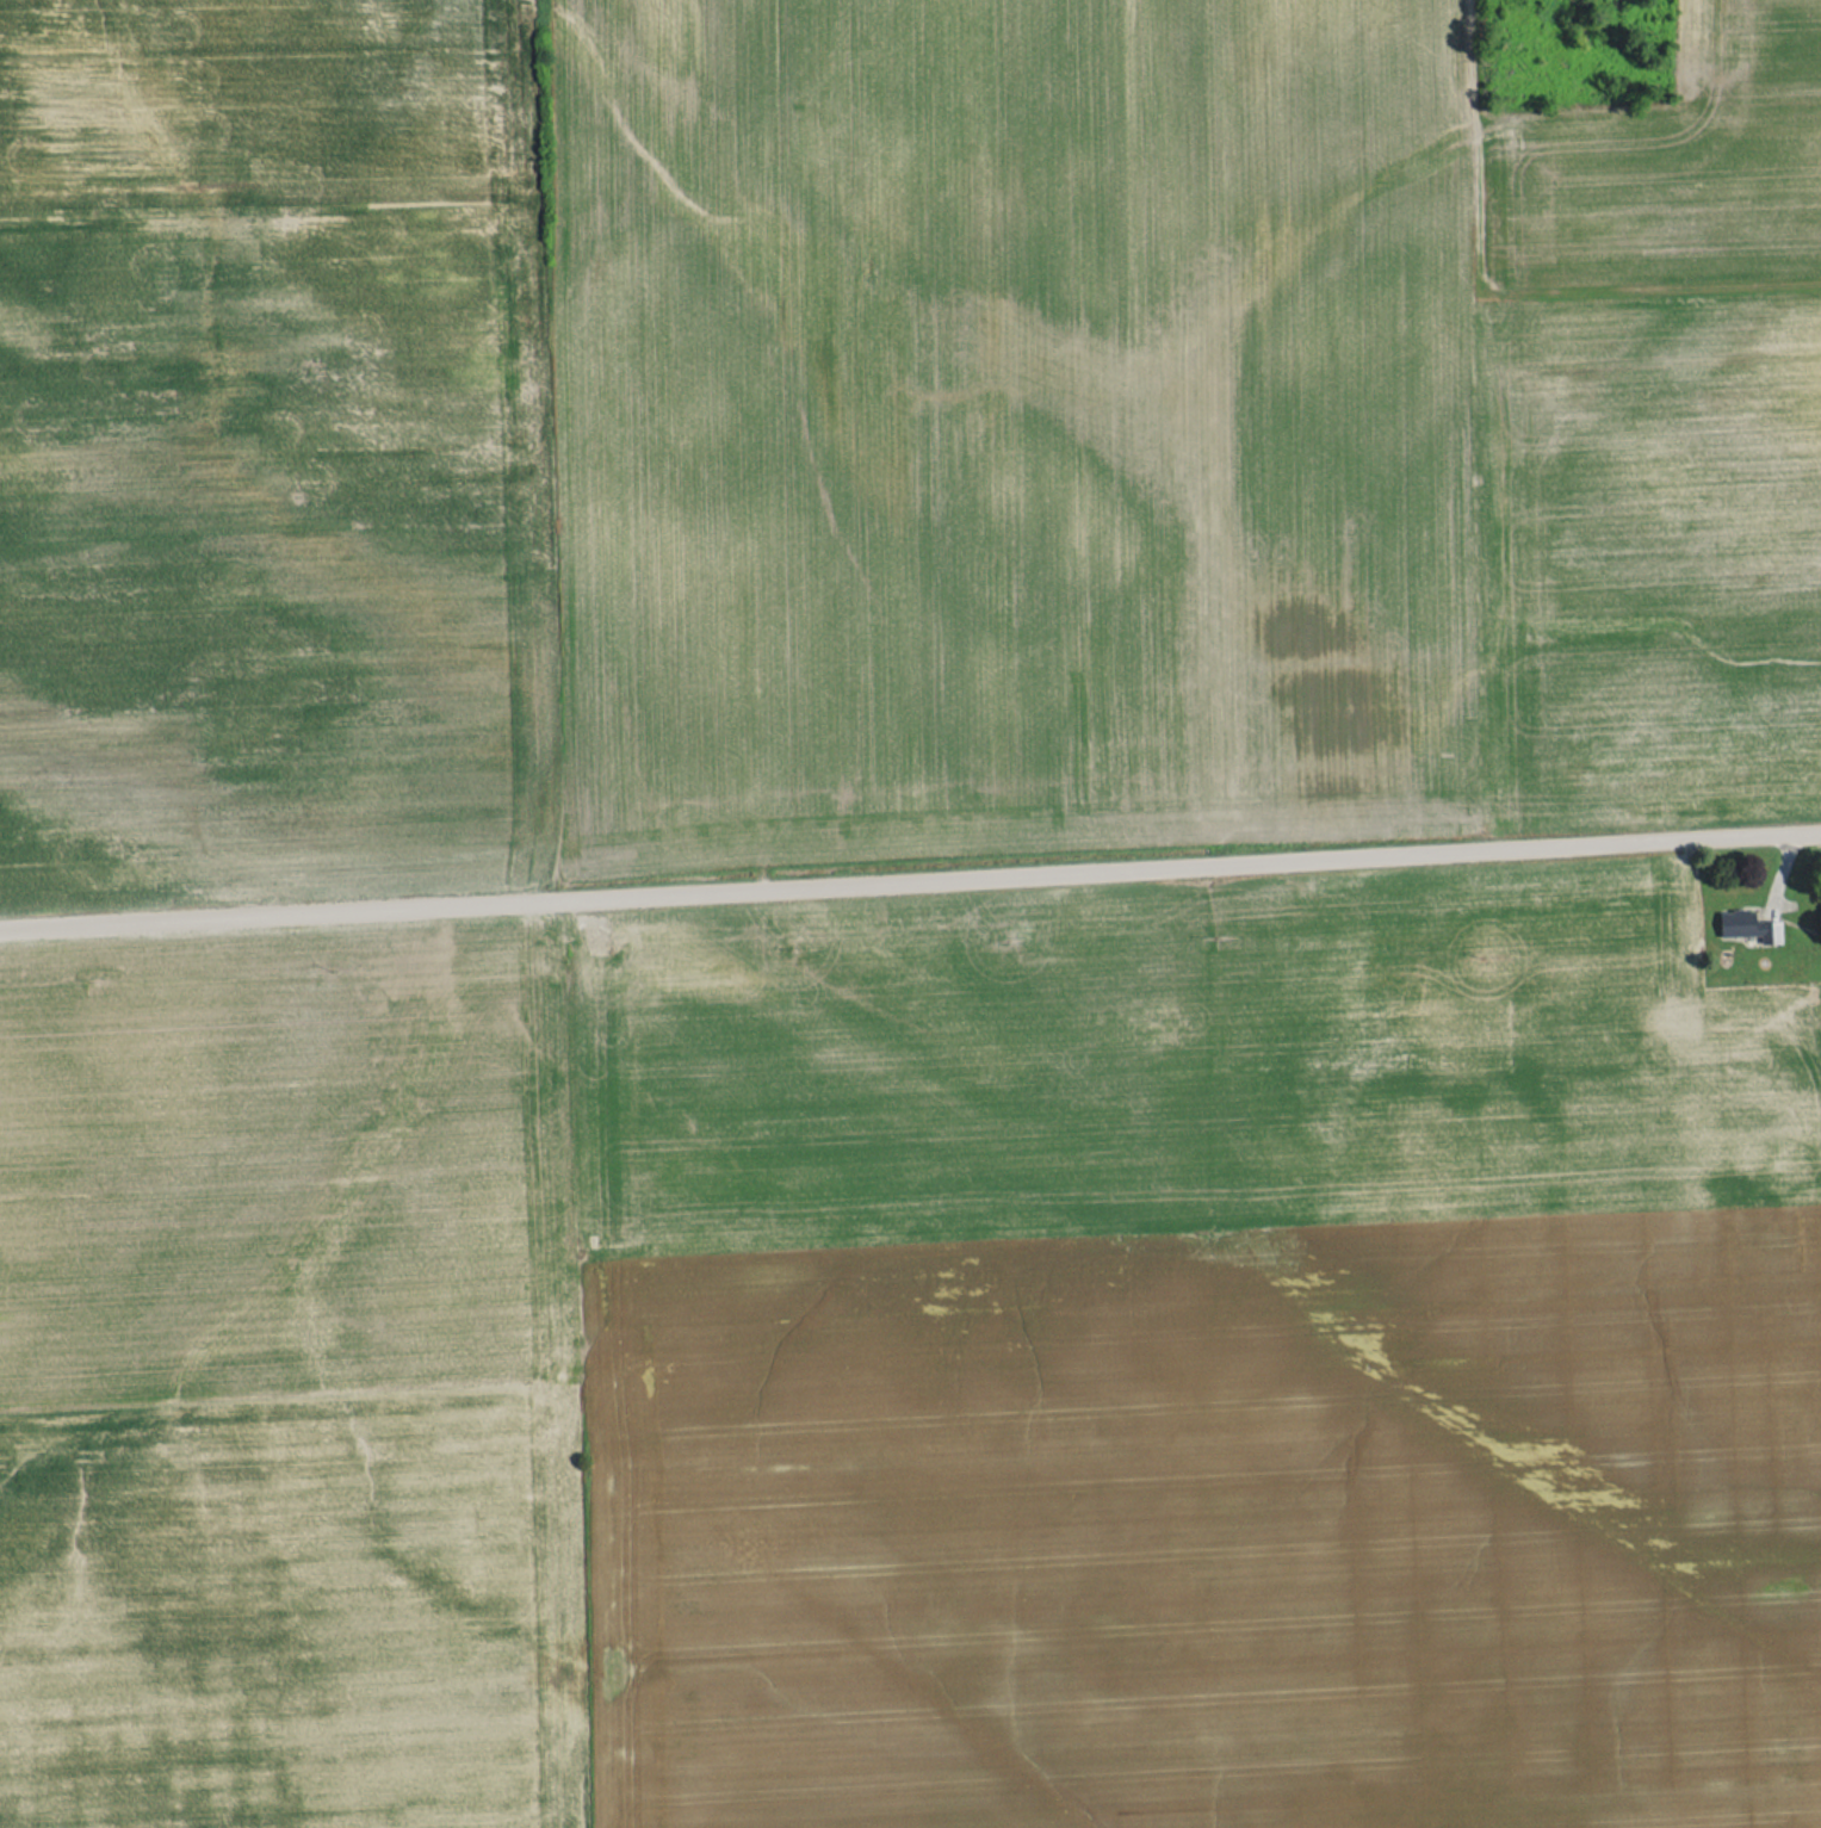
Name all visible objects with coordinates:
road: (910, 880)
building: (1749, 925)

